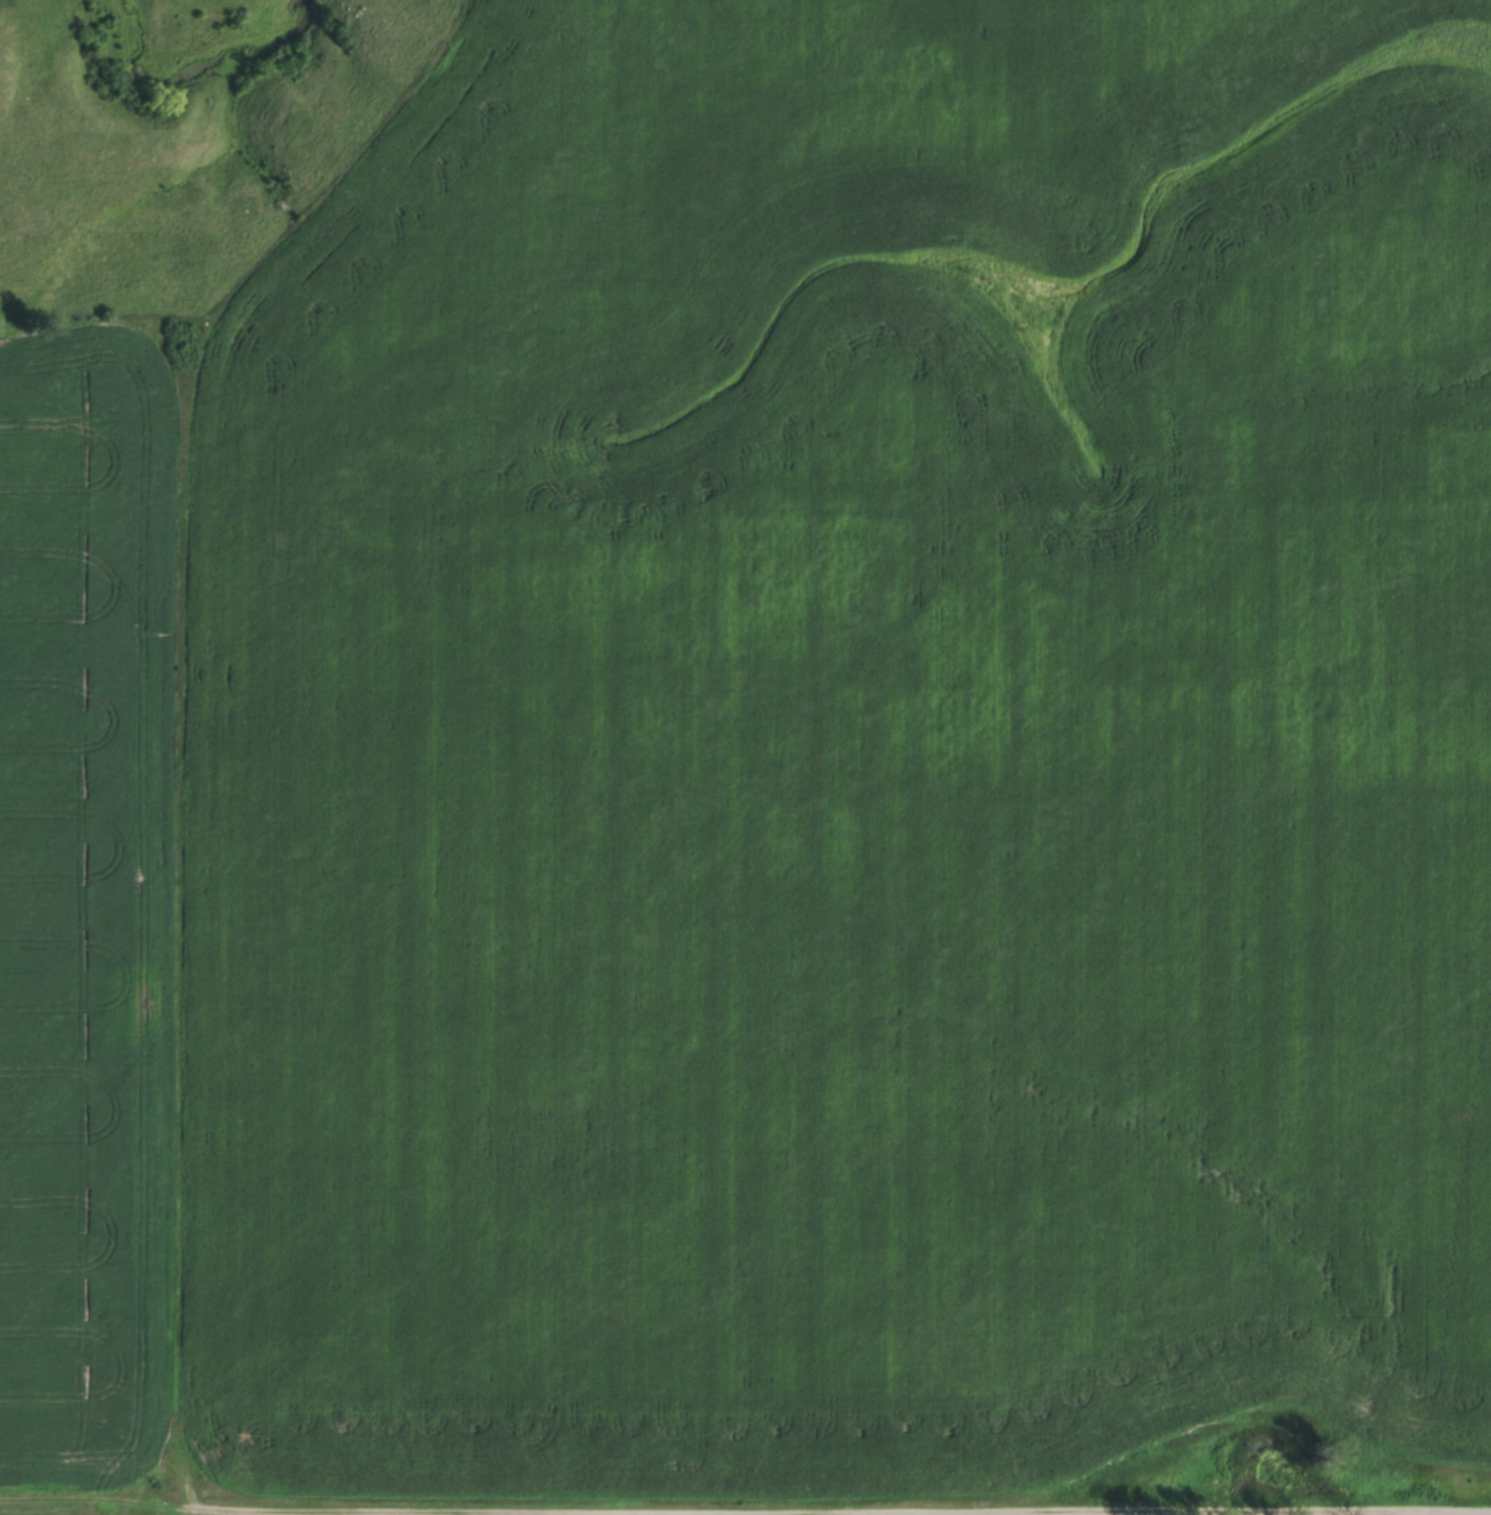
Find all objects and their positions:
road: (837, 1511)

